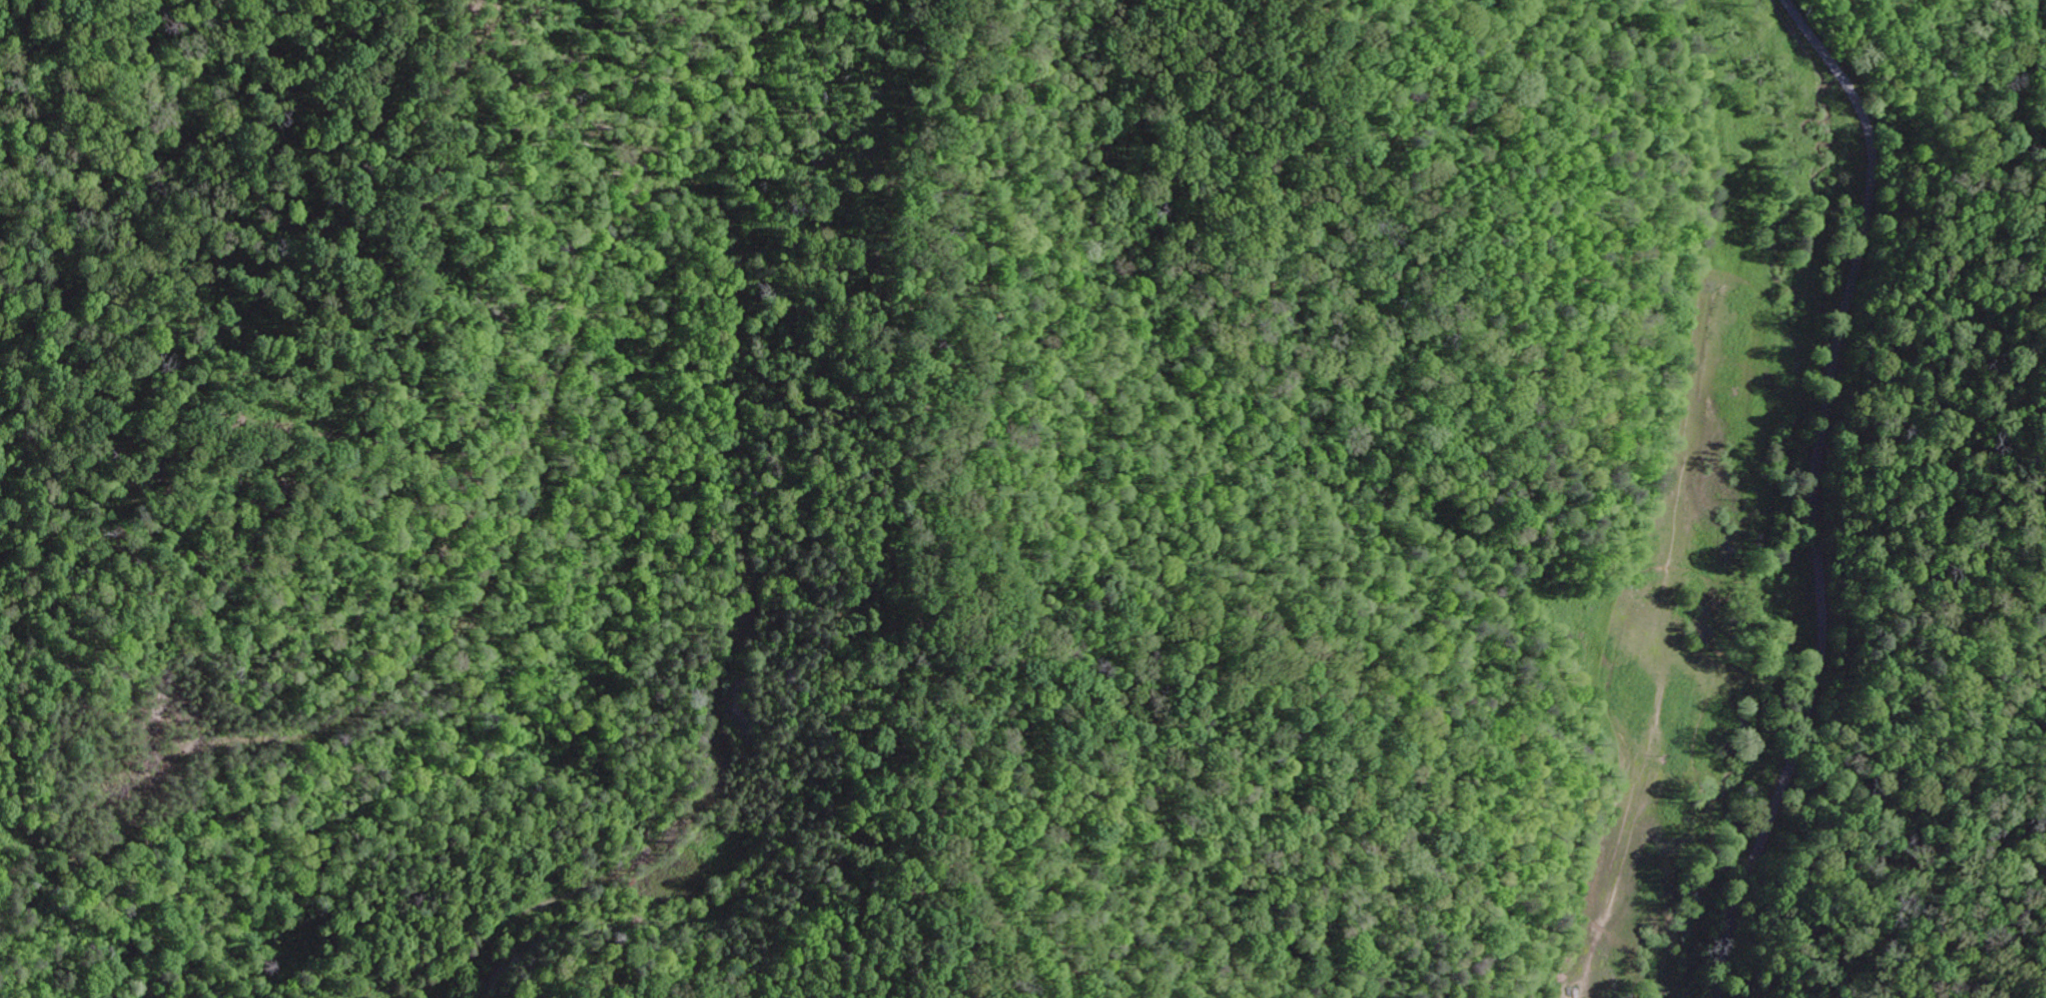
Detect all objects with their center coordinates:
road: (1814, 492)

